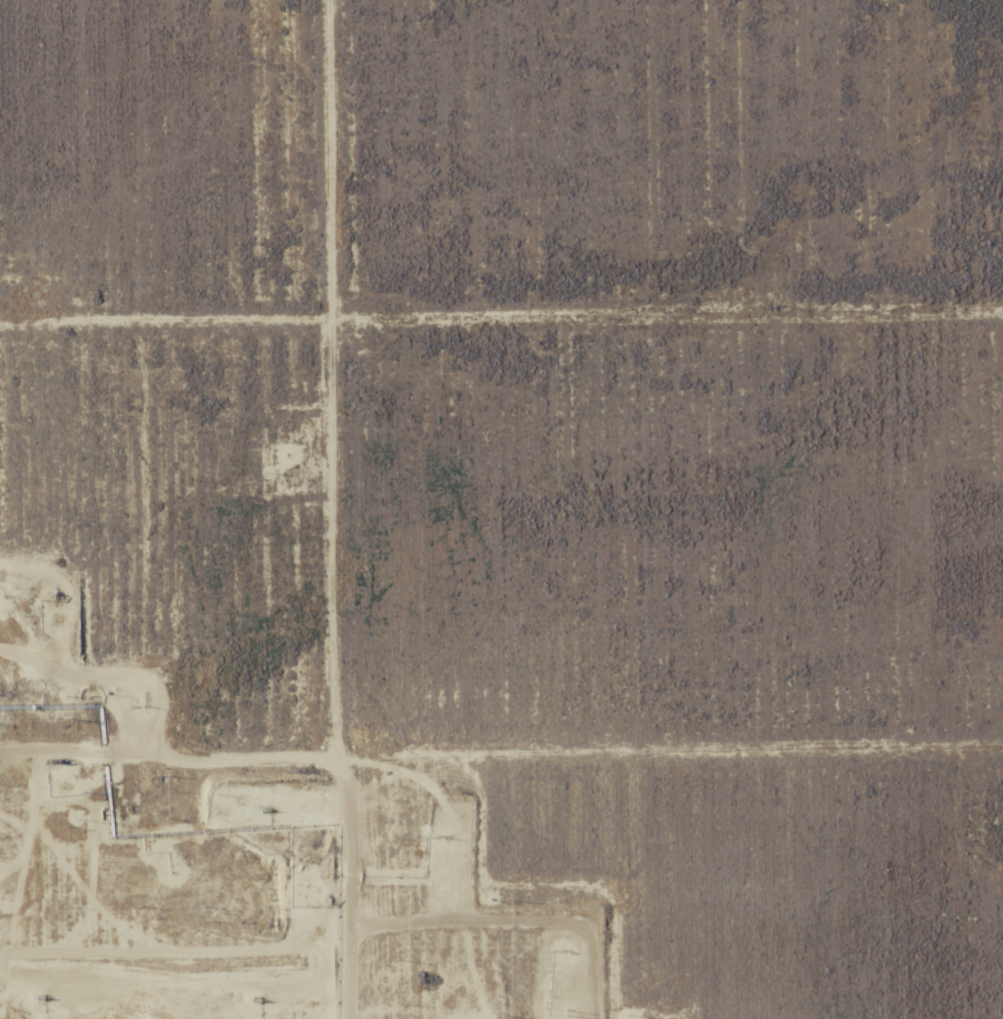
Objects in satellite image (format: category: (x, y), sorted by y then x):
road: (361, 509)
road: (909, 982)

